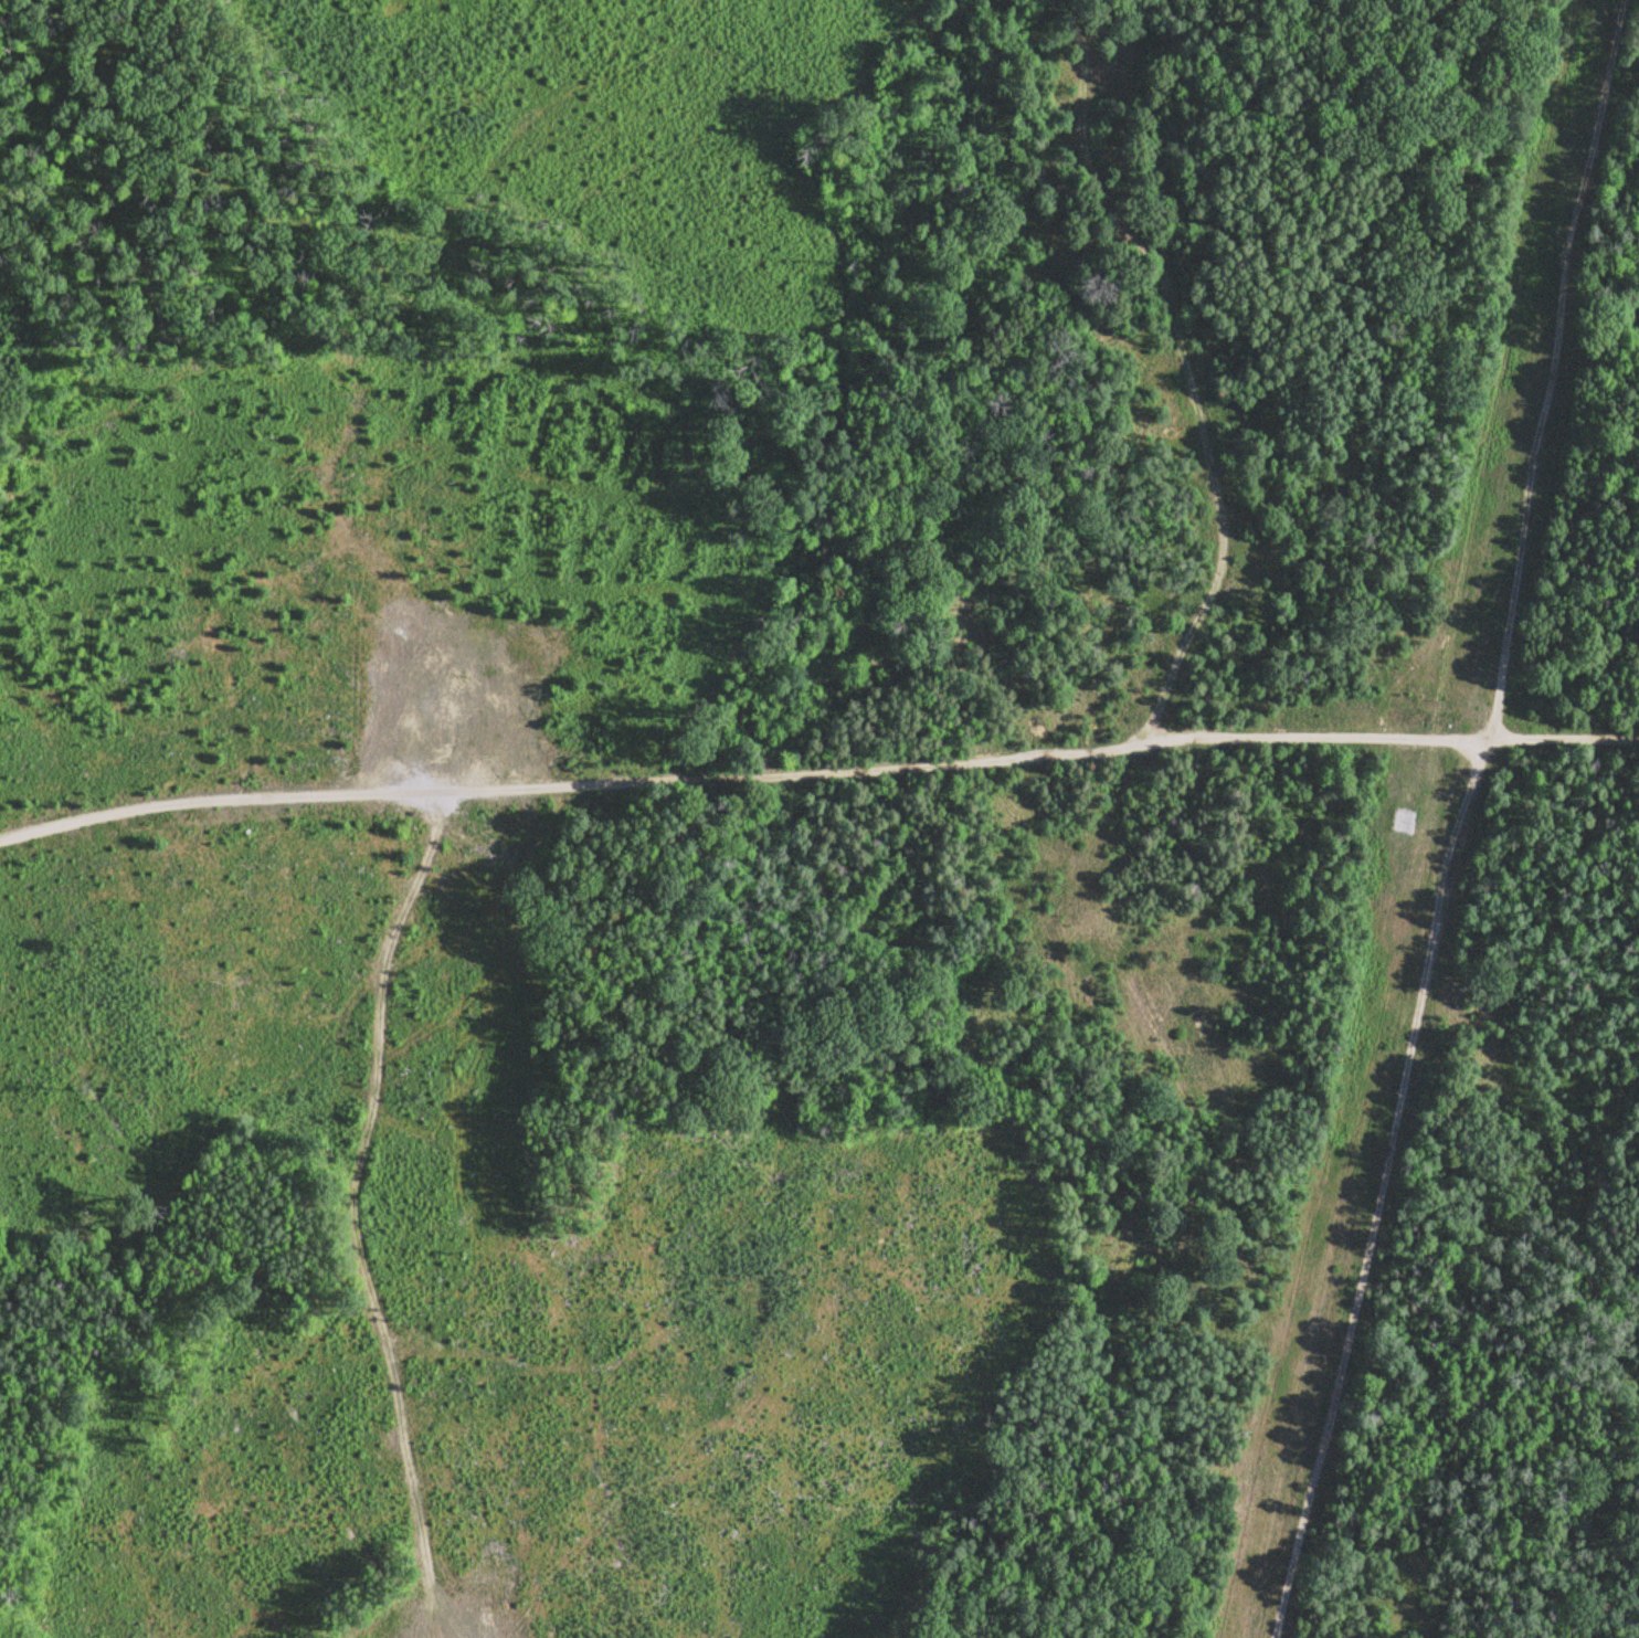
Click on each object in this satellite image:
road: (1178, 373)
road: (1043, 755)
road: (222, 805)
road: (1471, 823)
road: (350, 1203)

